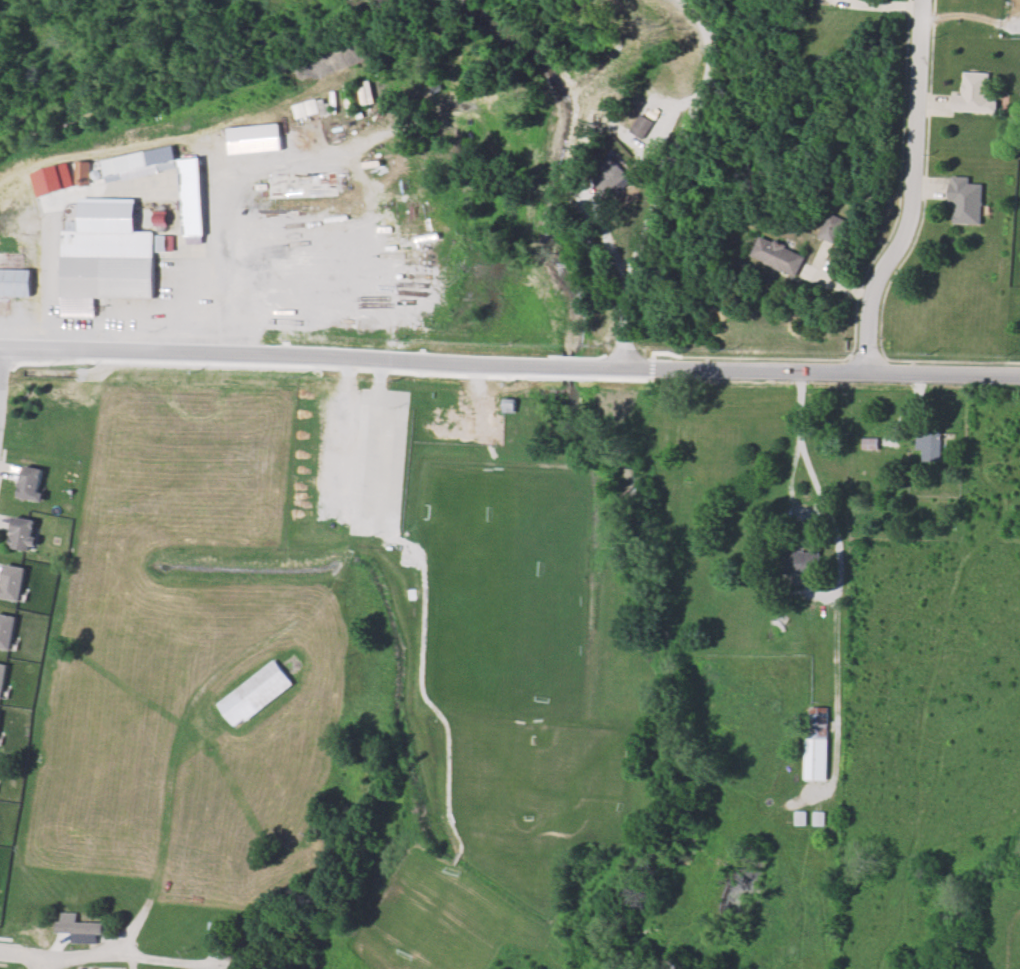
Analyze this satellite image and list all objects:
building: (977, 90)
building: (643, 128)
building: (118, 165)
building: (612, 176)
road: (670, 179)
road: (916, 195)
building: (966, 201)
road: (165, 203)
building: (831, 228)
road: (611, 246)
building: (779, 257)
building: (106, 275)
building: (15, 285)
road: (241, 299)
road: (45, 326)
road: (509, 368)
building: (508, 405)
building: (868, 443)
building: (927, 444)
road: (11, 470)
building: (31, 482)
road: (788, 490)
road: (818, 494)
road: (6, 522)
road: (356, 523)
building: (22, 532)
building: (802, 561)
park: (503, 586)
park: (487, 602)
road: (418, 667)
building: (255, 693)
building: (818, 741)
park: (539, 777)
road: (162, 813)
building: (800, 817)
building: (818, 817)
building: (77, 931)
building: (222, 931)
road: (104, 953)

